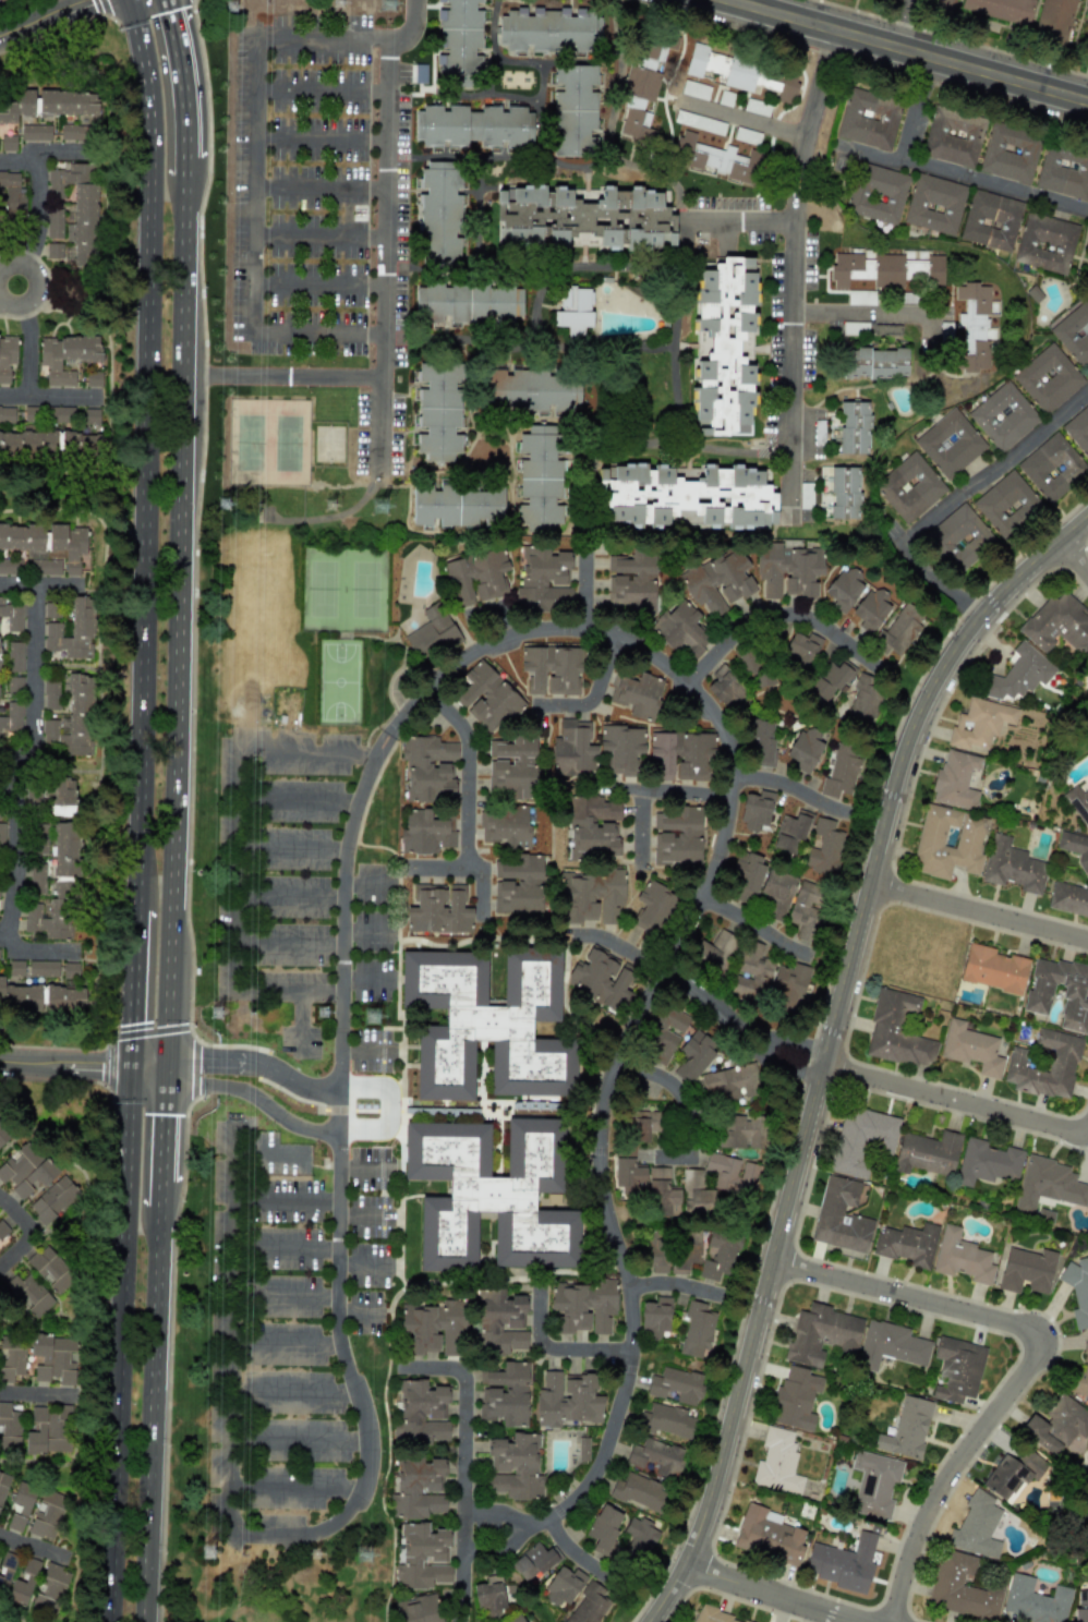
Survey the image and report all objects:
building: (893, 0)
power tower: (343, 3)
building: (939, 4)
power tower: (394, 5)
power tower: (232, 7)
building: (1001, 9)
road: (781, 14)
road: (43, 16)
building: (1054, 21)
road: (902, 23)
road: (411, 27)
building: (549, 29)
building: (1086, 36)
road: (373, 37)
building: (459, 43)
building: (658, 45)
road: (960, 64)
building: (742, 73)
road: (184, 77)
building: (641, 83)
road: (321, 90)
building: (50, 104)
building: (573, 110)
road: (746, 119)
building: (869, 119)
building: (637, 125)
building: (473, 126)
building: (35, 132)
building: (74, 132)
building: (953, 136)
road: (321, 140)
building: (8, 143)
building: (1010, 153)
building: (716, 159)
road: (613, 161)
road: (188, 166)
building: (1063, 171)
road: (965, 174)
road: (319, 186)
building: (877, 194)
road: (34, 195)
building: (11, 196)
building: (934, 204)
building: (439, 214)
building: (582, 218)
building: (991, 220)
road: (739, 221)
building: (55, 222)
road: (321, 234)
building: (1045, 243)
building: (53, 250)
road: (790, 269)
building: (886, 270)
building: (1086, 277)
road: (319, 283)
road: (8, 290)
building: (467, 302)
building: (572, 311)
road: (869, 314)
building: (972, 327)
road: (322, 330)
building: (1074, 332)
road: (29, 339)
building: (724, 348)
building: (7, 356)
building: (65, 358)
building: (873, 363)
road: (283, 375)
building: (1048, 378)
building: (93, 379)
building: (530, 390)
road: (45, 397)
building: (437, 411)
building: (7, 414)
building: (1003, 416)
building: (854, 427)
building: (1078, 429)
building: (950, 444)
road: (741, 451)
road: (146, 452)
building: (1052, 467)
building: (539, 477)
building: (909, 487)
building: (839, 492)
building: (687, 496)
road: (954, 498)
power tower: (226, 504)
building: (1006, 504)
power tower: (336, 506)
building: (456, 506)
power tower: (383, 507)
building: (958, 538)
building: (46, 546)
road: (1073, 555)
building: (8, 567)
building: (788, 569)
building: (476, 577)
building: (543, 580)
building: (632, 580)
building: (717, 581)
road: (20, 583)
road: (57, 584)
road: (592, 586)
building: (844, 589)
building: (870, 608)
building: (50, 609)
building: (12, 613)
road: (772, 615)
road: (182, 621)
building: (1057, 624)
building: (681, 630)
building: (899, 630)
building: (72, 632)
building: (431, 632)
building: (801, 649)
building: (14, 656)
building: (553, 669)
road: (604, 671)
building: (1018, 674)
road: (32, 679)
building: (830, 679)
building: (726, 688)
building: (50, 693)
building: (638, 694)
building: (486, 698)
building: (865, 701)
road: (561, 705)
building: (11, 719)
building: (72, 719)
building: (979, 723)
building: (761, 741)
building: (621, 748)
road: (234, 749)
building: (572, 749)
building: (805, 749)
building: (682, 753)
building: (512, 766)
building: (427, 767)
road: (471, 767)
building: (842, 770)
building: (955, 779)
road: (795, 786)
road: (654, 792)
building: (62, 796)
road: (295, 802)
building: (1078, 803)
building: (755, 810)
building: (505, 826)
building: (593, 827)
building: (1, 833)
building: (425, 833)
building: (789, 833)
building: (677, 836)
building: (948, 842)
road: (14, 843)
building: (39, 846)
building: (825, 847)
building: (1075, 848)
road: (289, 850)
road: (469, 863)
building: (1012, 866)
building: (37, 879)
building: (758, 881)
road: (370, 882)
building: (518, 884)
building: (58, 889)
building: (592, 896)
building: (1068, 898)
building: (652, 907)
building: (806, 908)
building: (438, 909)
road: (977, 911)
road: (748, 922)
road: (364, 931)
road: (288, 942)
road: (233, 943)
road: (620, 946)
road: (26, 949)
building: (713, 952)
building: (43, 968)
building: (993, 969)
building: (70, 970)
building: (751, 971)
road: (661, 977)
road: (367, 980)
building: (787, 988)
road: (134, 989)
building: (1039, 992)
building: (40, 997)
power tower: (218, 1013)
power tower: (379, 1016)
power tower: (329, 1017)
road: (299, 1022)
building: (486, 1022)
road: (741, 1025)
building: (896, 1031)
building: (664, 1034)
road: (830, 1042)
building: (971, 1048)
road: (367, 1051)
building: (693, 1056)
building: (1063, 1057)
road: (256, 1060)
road: (65, 1066)
road: (149, 1068)
building: (730, 1082)
road: (670, 1085)
road: (253, 1099)
road: (956, 1102)
road: (386, 1110)
road: (166, 1123)
building: (643, 1125)
building: (740, 1131)
building: (2, 1135)
building: (861, 1139)
road: (130, 1153)
building: (928, 1153)
building: (987, 1162)
road: (363, 1167)
building: (25, 1171)
building: (629, 1173)
building: (714, 1182)
building: (1049, 1184)
road: (162, 1193)
building: (662, 1194)
building: (489, 1195)
road: (286, 1196)
building: (52, 1200)
road: (362, 1216)
building: (841, 1216)
building: (3, 1231)
road: (32, 1231)
building: (907, 1244)
building: (686, 1249)
road: (285, 1250)
building: (655, 1251)
building: (718, 1256)
building: (962, 1257)
road: (362, 1263)
building: (50, 1270)
building: (1027, 1270)
road: (678, 1288)
building: (1078, 1290)
building: (28, 1295)
road: (285, 1296)
building: (582, 1306)
road: (356, 1312)
building: (654, 1318)
building: (498, 1322)
building: (434, 1327)
building: (697, 1330)
building: (821, 1334)
road: (286, 1344)
building: (890, 1345)
road: (157, 1351)
road: (1041, 1353)
road: (546, 1355)
building: (11, 1357)
building: (53, 1359)
road: (339, 1359)
building: (957, 1369)
building: (1080, 1377)
building: (676, 1387)
road: (297, 1389)
road: (34, 1394)
building: (504, 1394)
building: (566, 1399)
building: (795, 1399)
building: (420, 1413)
building: (666, 1420)
building: (1056, 1425)
building: (10, 1426)
building: (906, 1429)
building: (49, 1430)
road: (120, 1430)
road: (300, 1432)
building: (655, 1457)
building: (777, 1463)
building: (513, 1465)
road: (459, 1469)
building: (1012, 1474)
building: (874, 1484)
building: (3, 1485)
road: (297, 1486)
building: (418, 1487)
building: (639, 1491)
building: (35, 1511)
building: (976, 1526)
building: (603, 1528)
building: (767, 1535)
building: (640, 1536)
road: (16, 1542)
power tower: (210, 1552)
power tower: (322, 1556)
building: (422, 1557)
power tower: (373, 1558)
road: (150, 1559)
road: (584, 1560)
building: (532, 1561)
building: (844, 1563)
building: (5, 1571)
park: (282, 1577)
building: (23, 1582)
building: (563, 1586)
building: (50, 1587)
building: (962, 1588)
road: (772, 1596)
building: (489, 1597)
building: (1033, 1601)
building: (588, 1606)
building: (1081, 1607)
building: (418, 1609)
building: (712, 1615)
building: (516, 1620)

